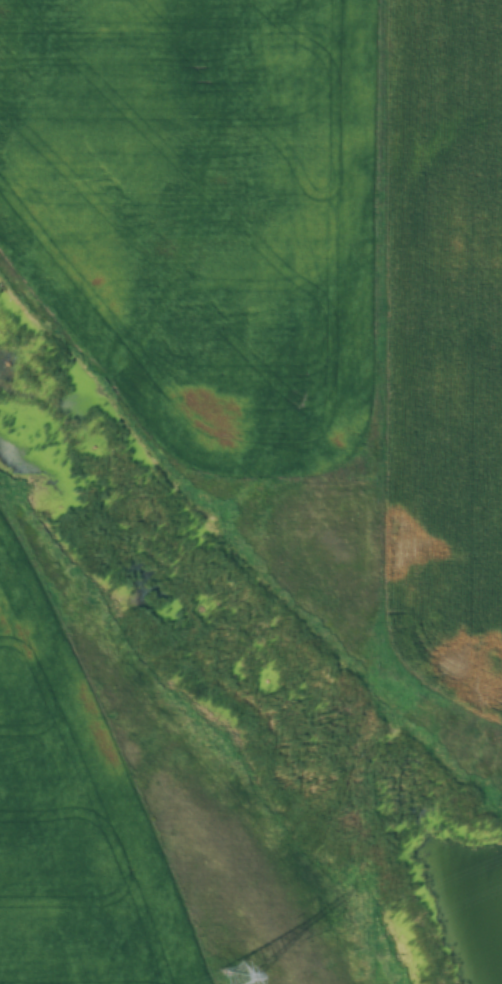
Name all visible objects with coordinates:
power tower: (232, 976)

